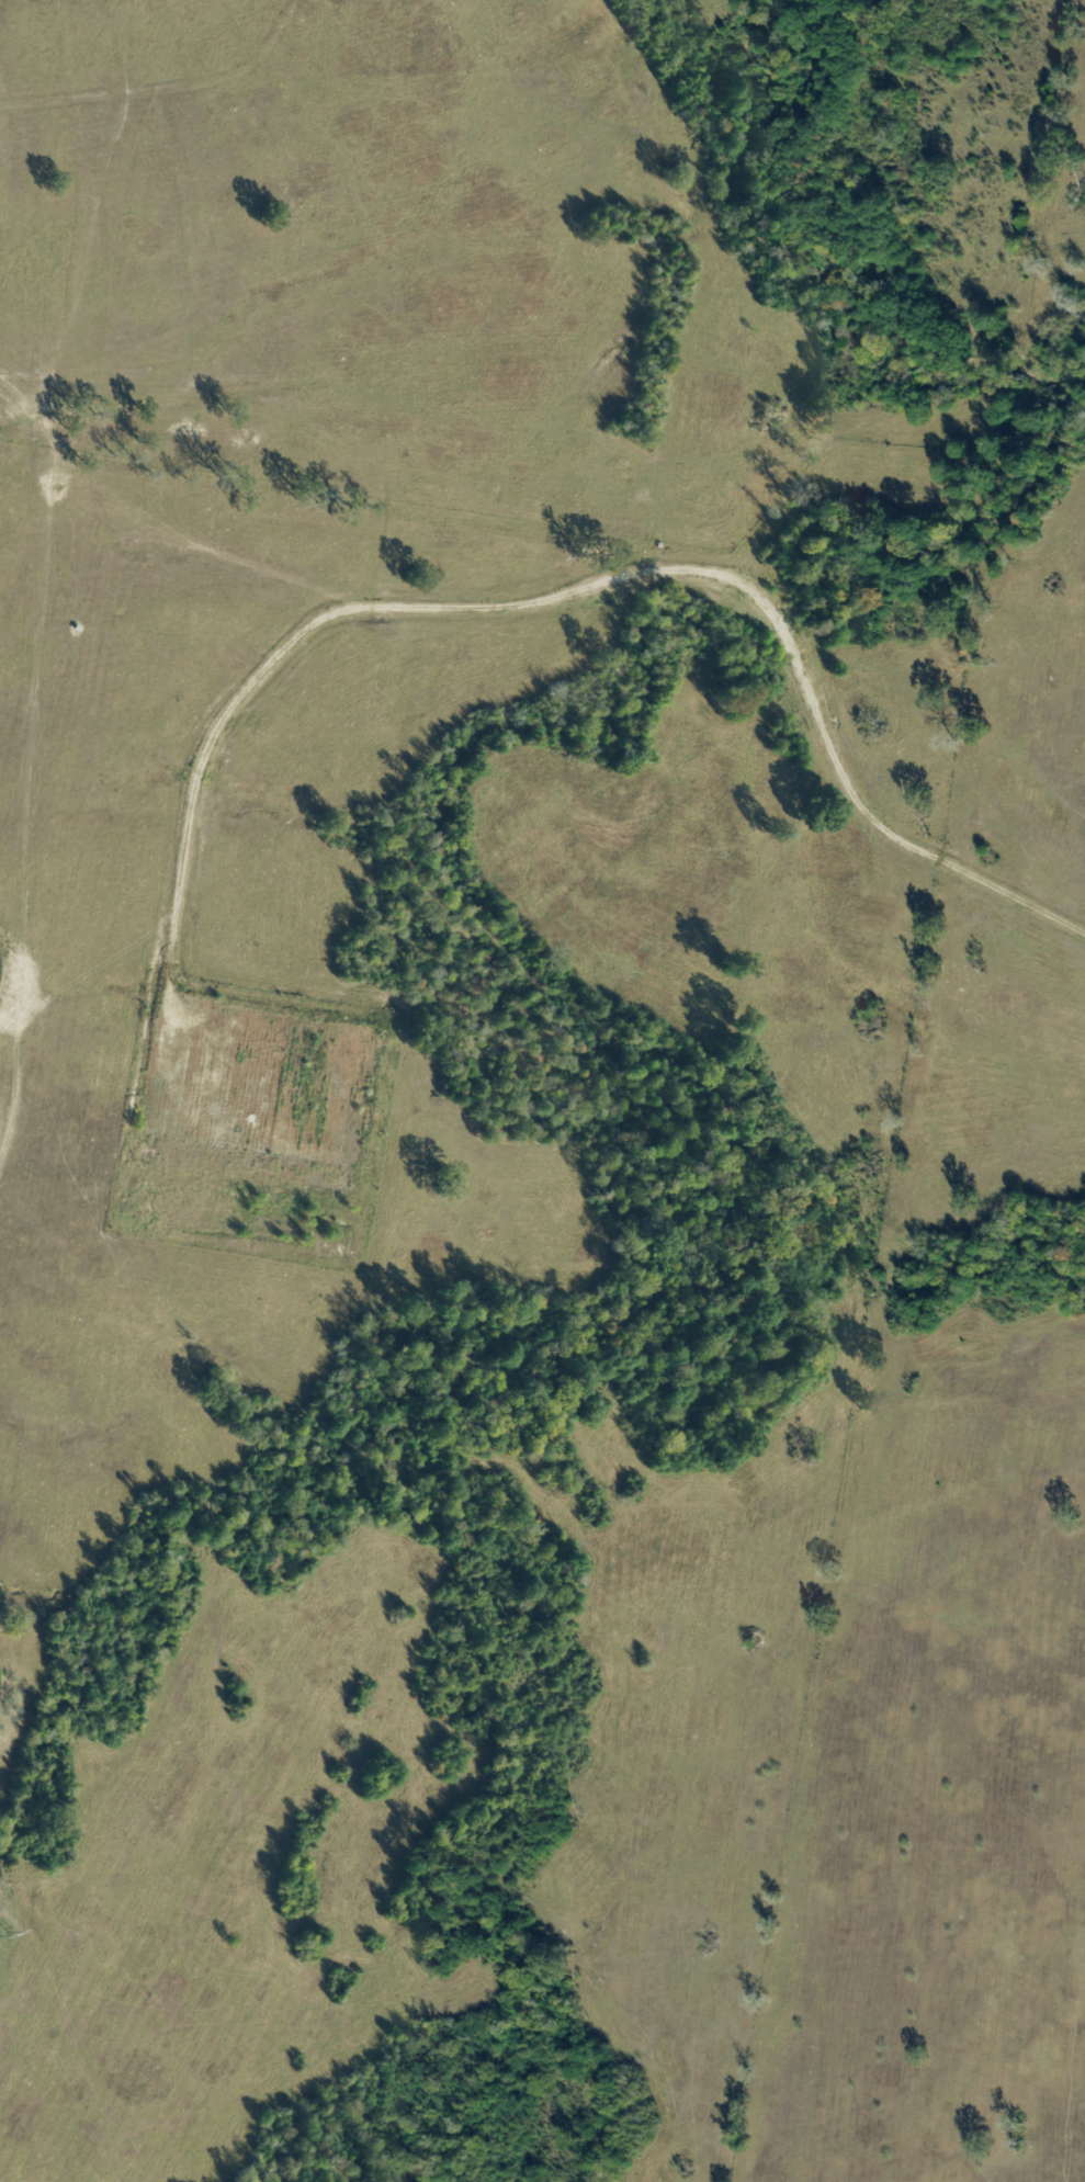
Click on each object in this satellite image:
power tower: (0, 1925)

